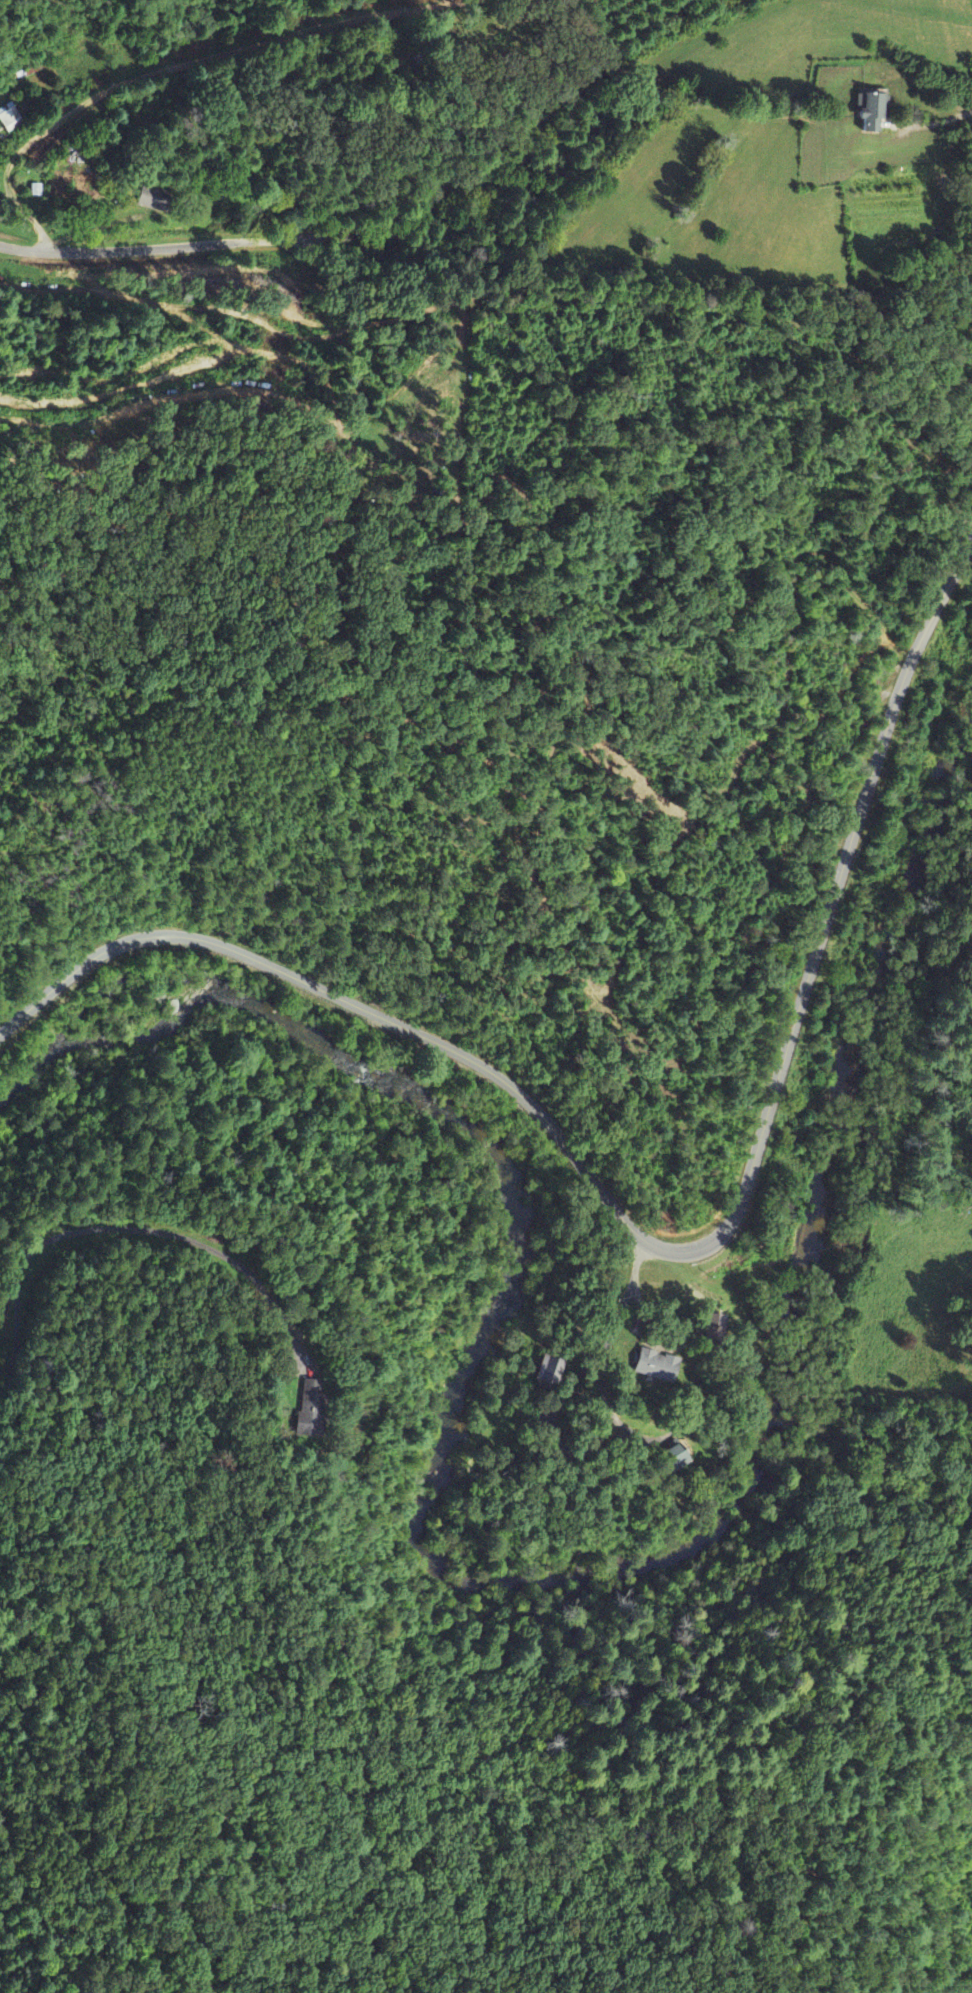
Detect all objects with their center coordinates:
road: (176, 66)
building: (871, 112)
road: (951, 117)
building: (10, 119)
road: (505, 173)
building: (154, 200)
road: (158, 246)
road: (665, 1249)
building: (656, 1366)
building: (309, 1410)
building: (674, 1458)

